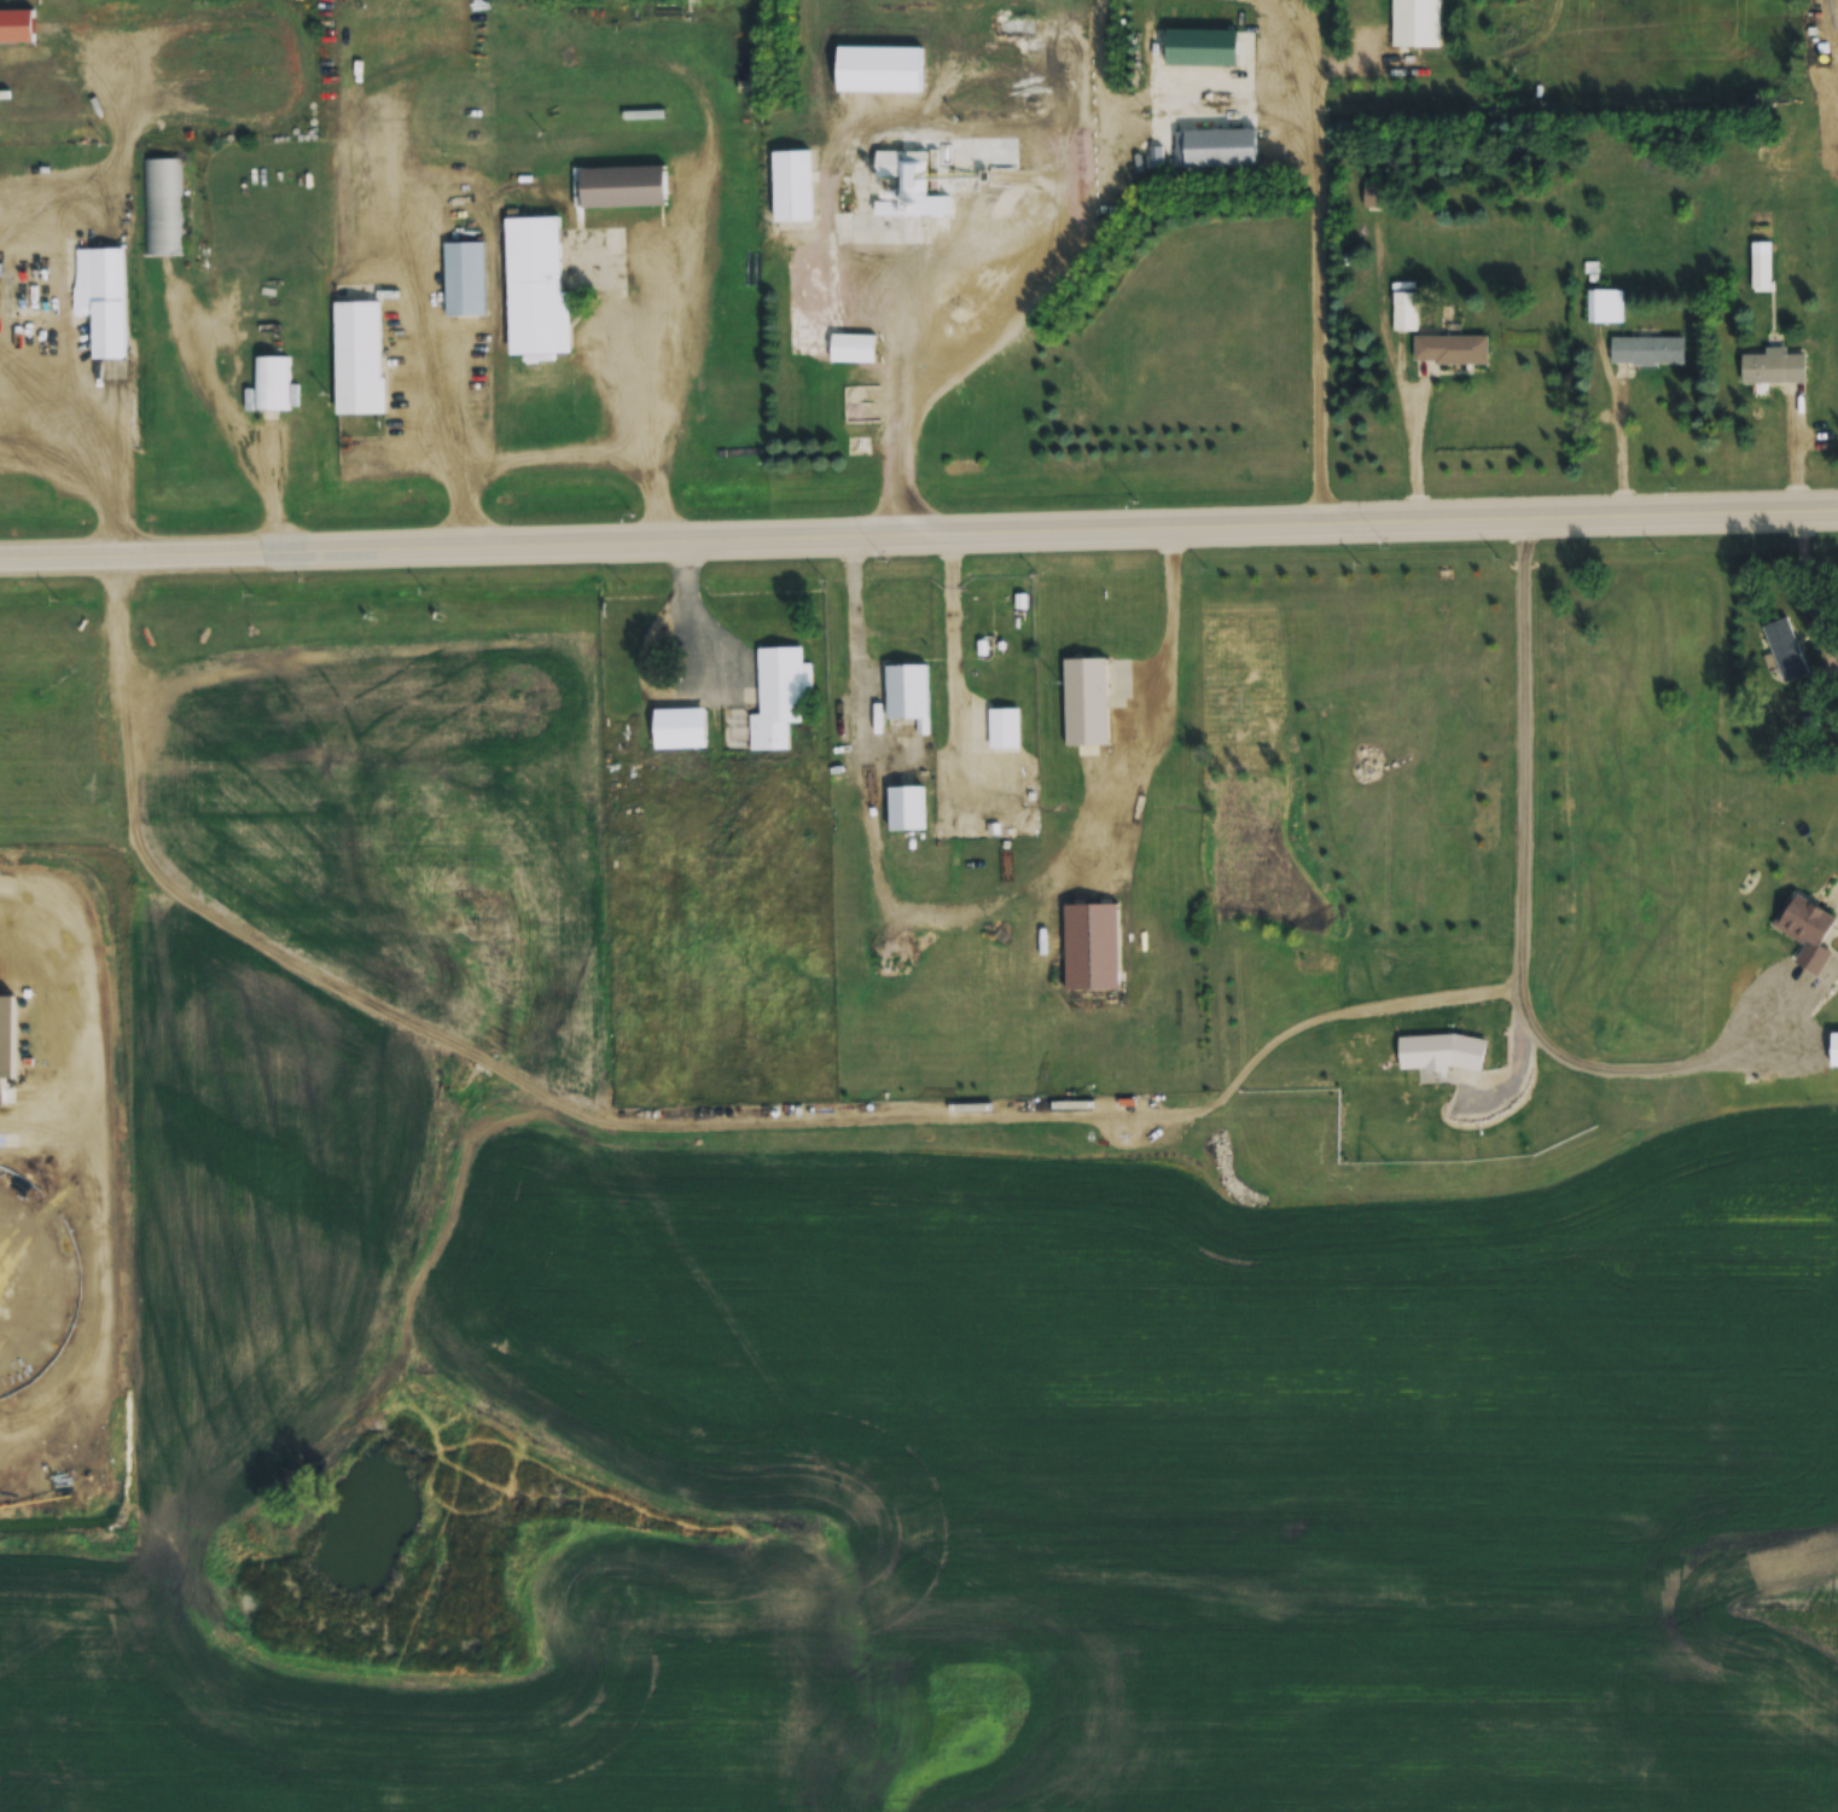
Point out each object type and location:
building: (1245, 6)
building: (1417, 24)
building: (879, 69)
building: (1828, 83)
building: (1827, 114)
building: (1828, 135)
building: (1828, 161)
building: (964, 170)
building: (792, 185)
building: (624, 187)
building: (1380, 196)
building: (164, 207)
building: (1761, 231)
building: (466, 278)
building: (537, 289)
building: (1605, 307)
building: (1404, 310)
building: (1450, 349)
building: (1647, 350)
building: (359, 359)
building: (1773, 368)
building: (273, 385)
road: (919, 539)
building: (1785, 650)
building: (908, 693)
building: (779, 698)
building: (1086, 702)
building: (1005, 730)
building: (906, 808)
building: (182, 846)
building: (197, 846)
building: (1807, 930)
building: (1092, 946)

